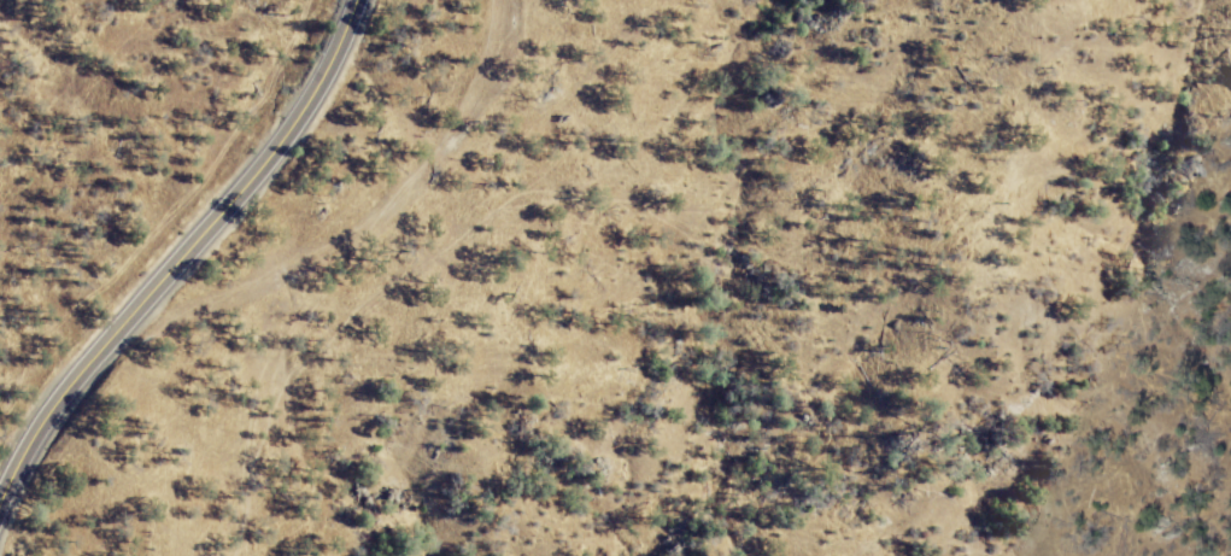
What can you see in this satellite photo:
road: (186, 259)

